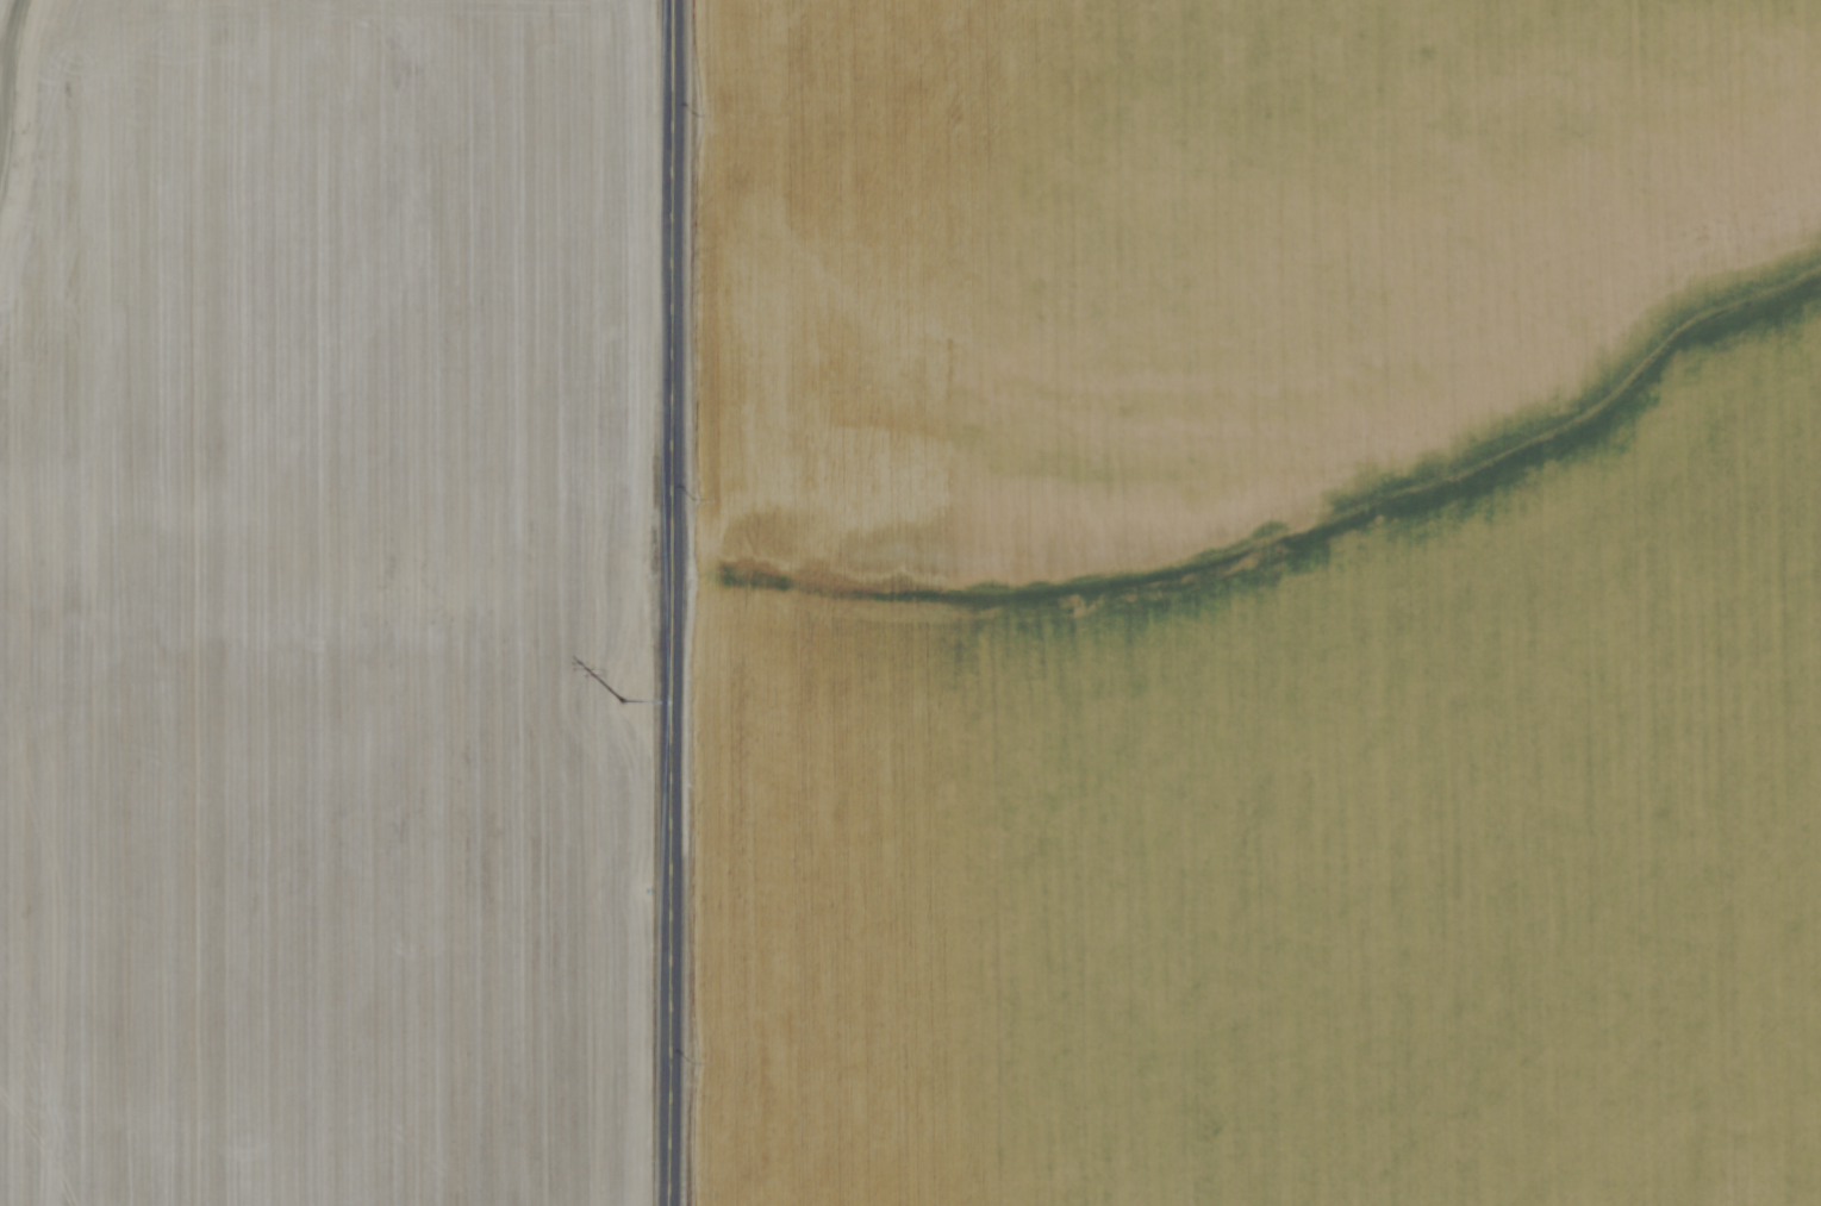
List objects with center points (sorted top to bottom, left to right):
road: (5, 20)
road: (665, 602)
power tower: (616, 700)

